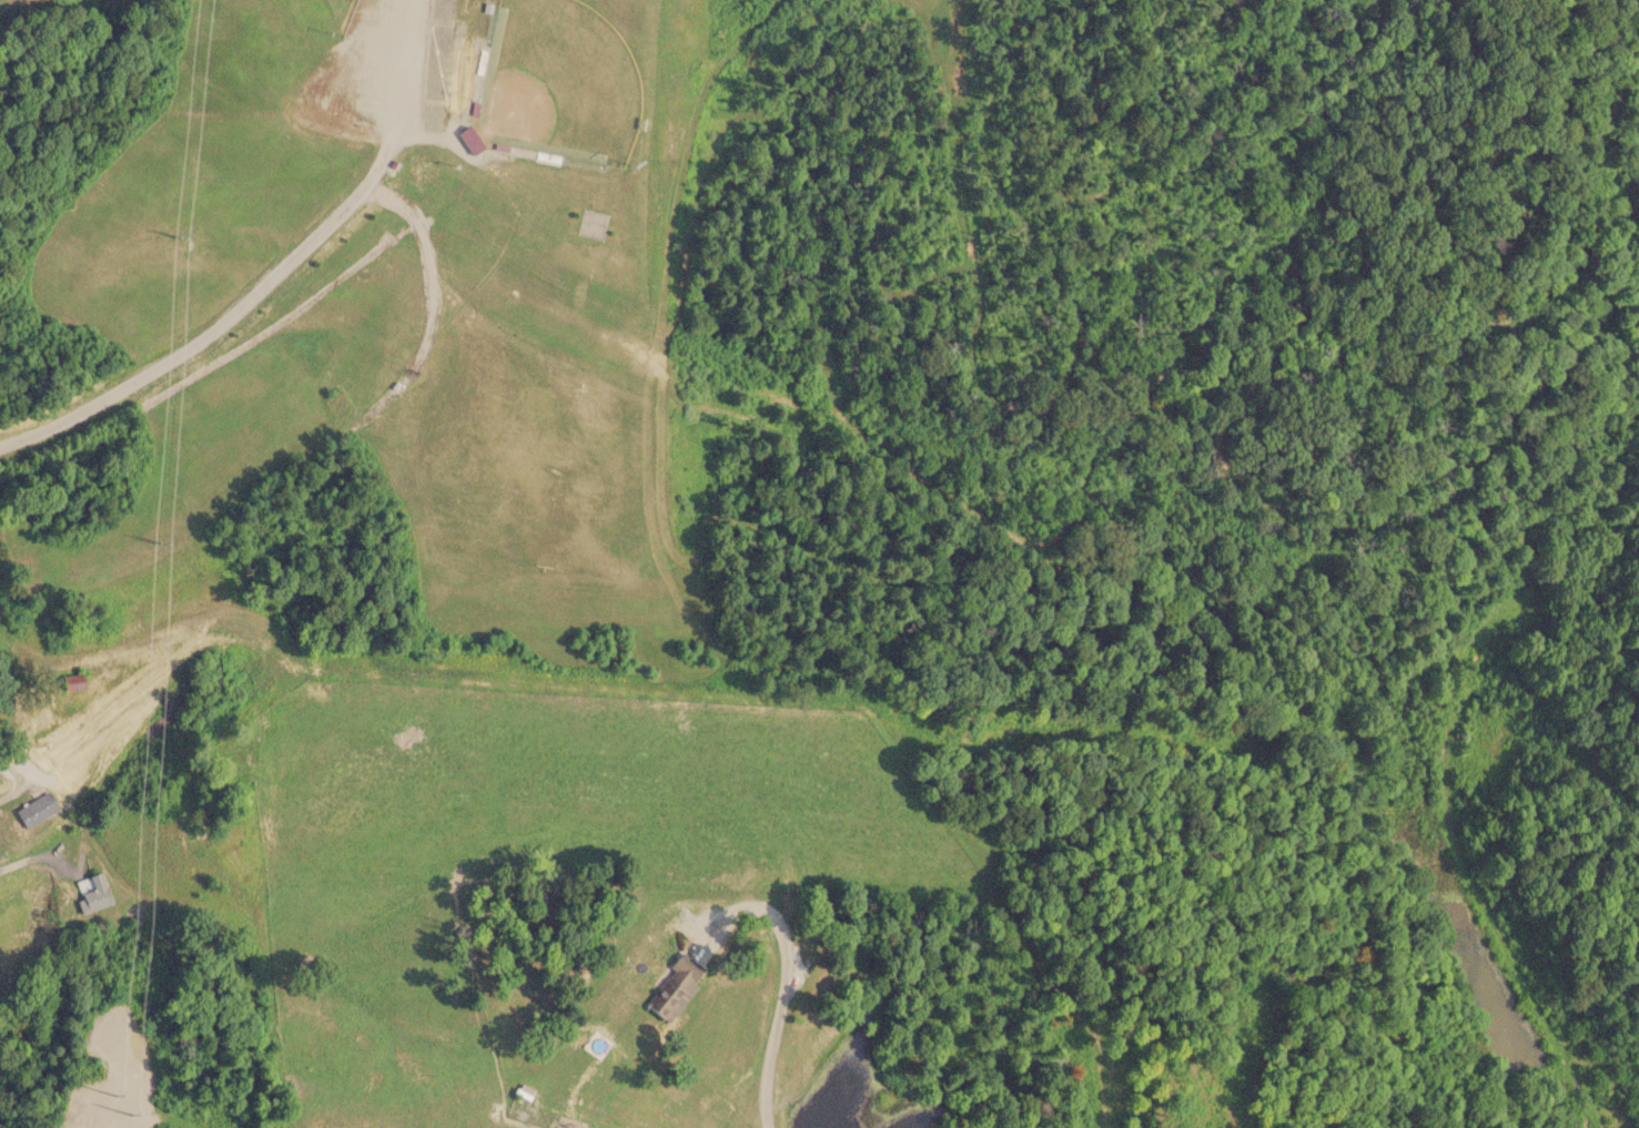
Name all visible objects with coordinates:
park: (556, 80)
building: (467, 139)
building: (594, 223)
power tower: (173, 243)
road: (47, 421)
power tower: (141, 548)
building: (68, 682)
building: (34, 809)
building: (91, 892)
building: (674, 989)

